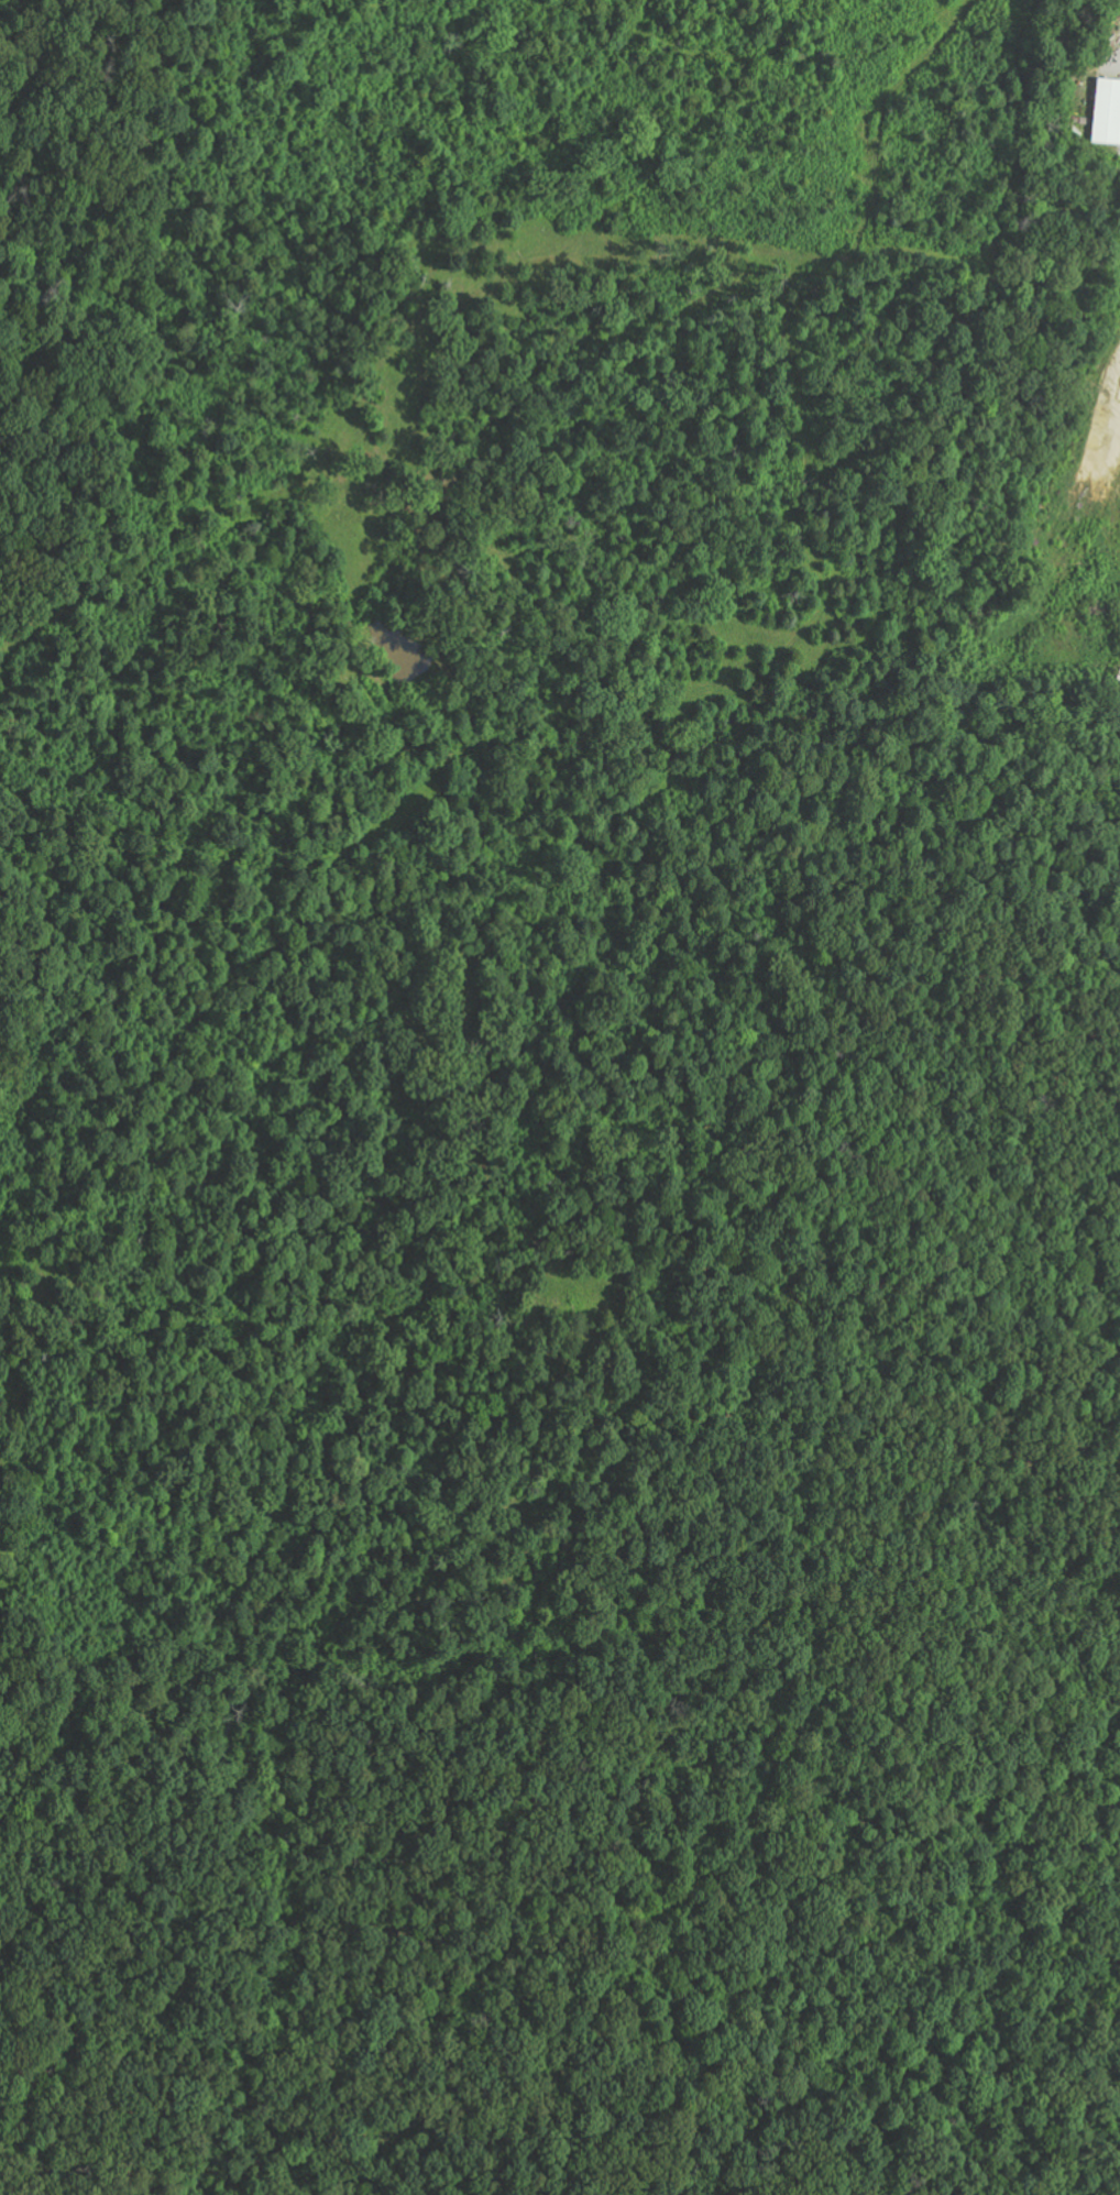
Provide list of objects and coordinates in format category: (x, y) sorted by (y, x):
building: (1108, 111)
road: (856, 2026)

